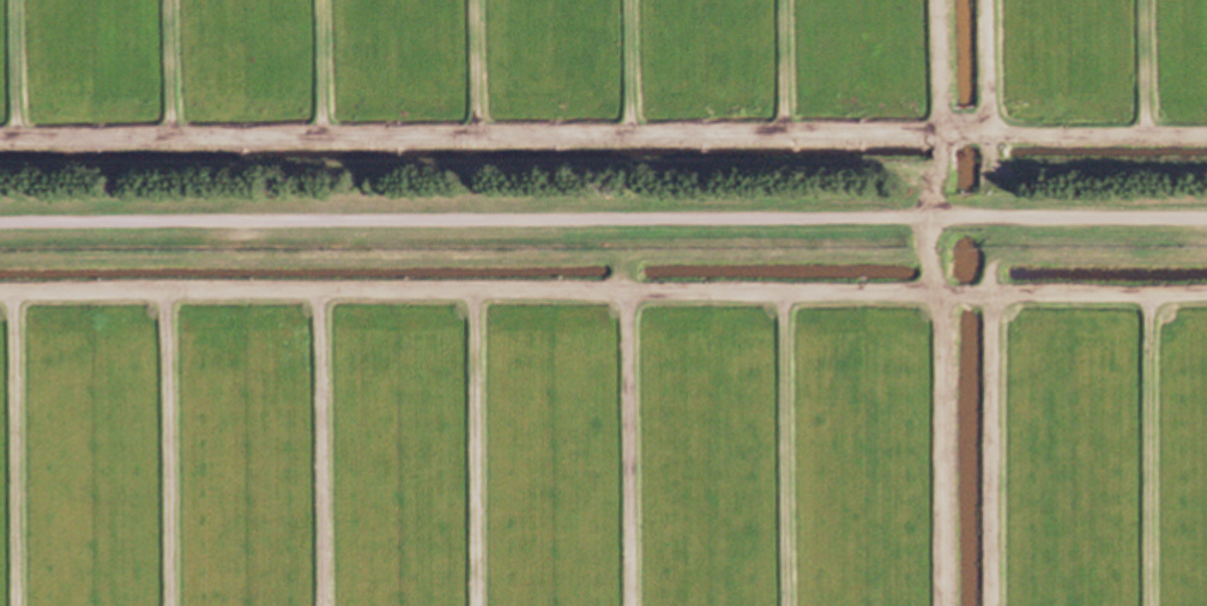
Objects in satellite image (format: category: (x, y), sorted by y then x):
road: (603, 224)

